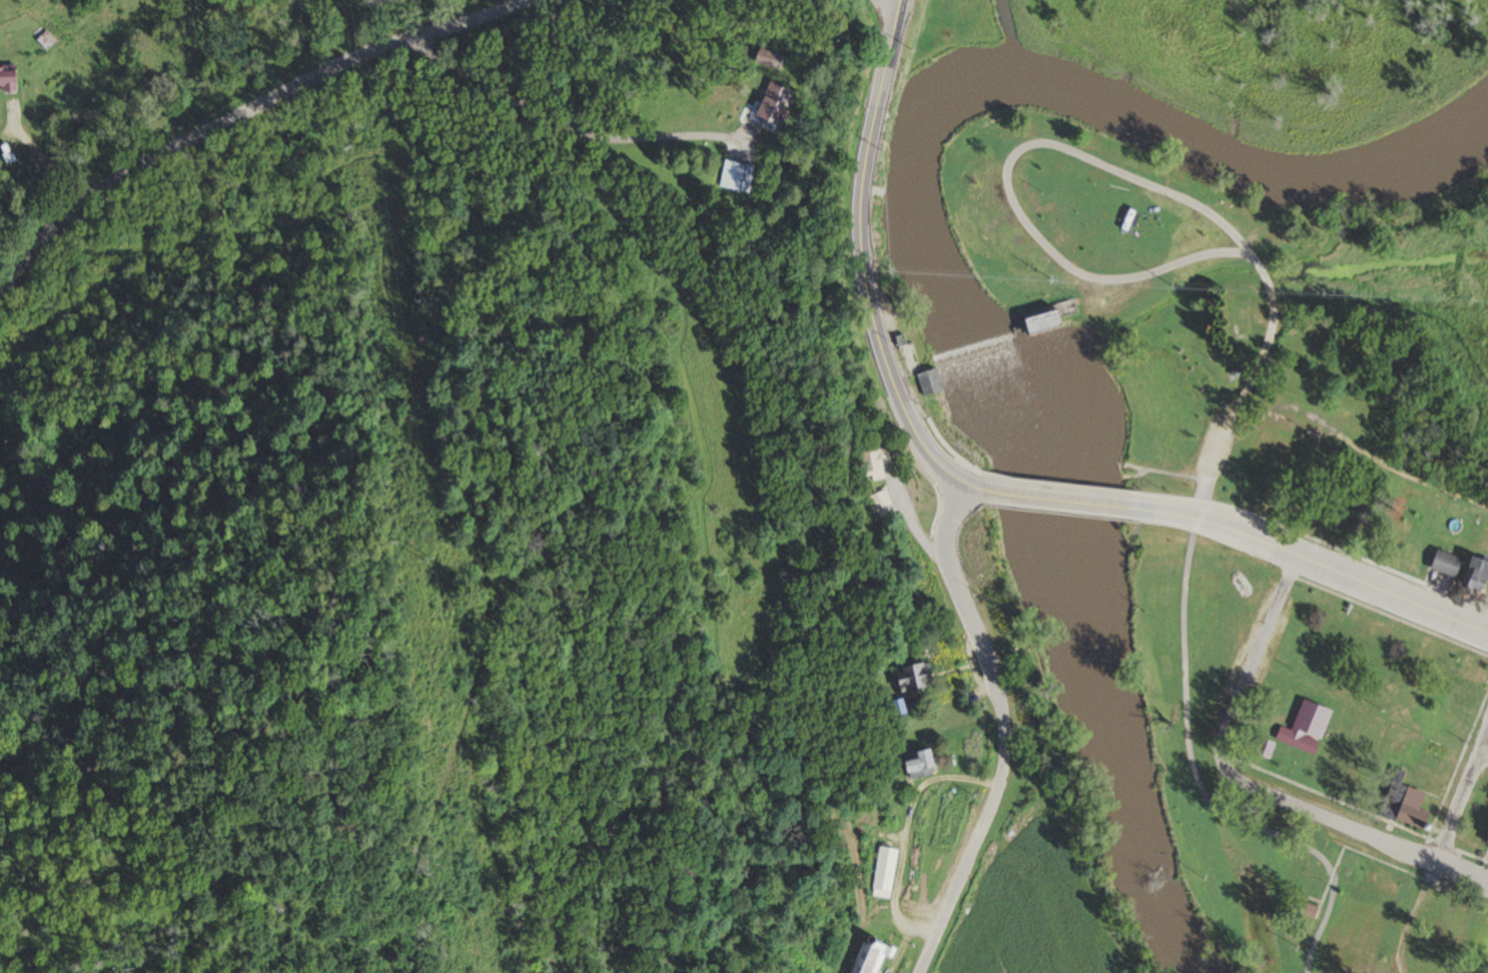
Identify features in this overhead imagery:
building: (41, 36)
building: (765, 61)
building: (7, 80)
building: (766, 105)
road: (253, 121)
road: (570, 125)
building: (735, 178)
building: (1075, 195)
road: (1011, 198)
river: (937, 266)
road: (863, 271)
park: (1121, 277)
building: (1049, 318)
dam: (976, 345)
building: (906, 356)
road: (1254, 365)
building: (928, 385)
building: (1273, 450)
building: (873, 463)
building: (880, 503)
road: (1088, 503)
road: (909, 520)
building: (1443, 563)
road: (1335, 570)
building: (1473, 573)
road: (1252, 663)
building: (1469, 672)
building: (909, 675)
building: (1304, 727)
road: (1004, 730)
building: (1260, 747)
building: (1434, 750)
road: (1484, 756)
building: (916, 764)
road: (1461, 801)
building: (1401, 802)
road: (1348, 829)
building: (1485, 837)
building: (882, 873)
building: (1306, 910)
road: (1414, 917)
crop: (999, 926)
building: (865, 956)

